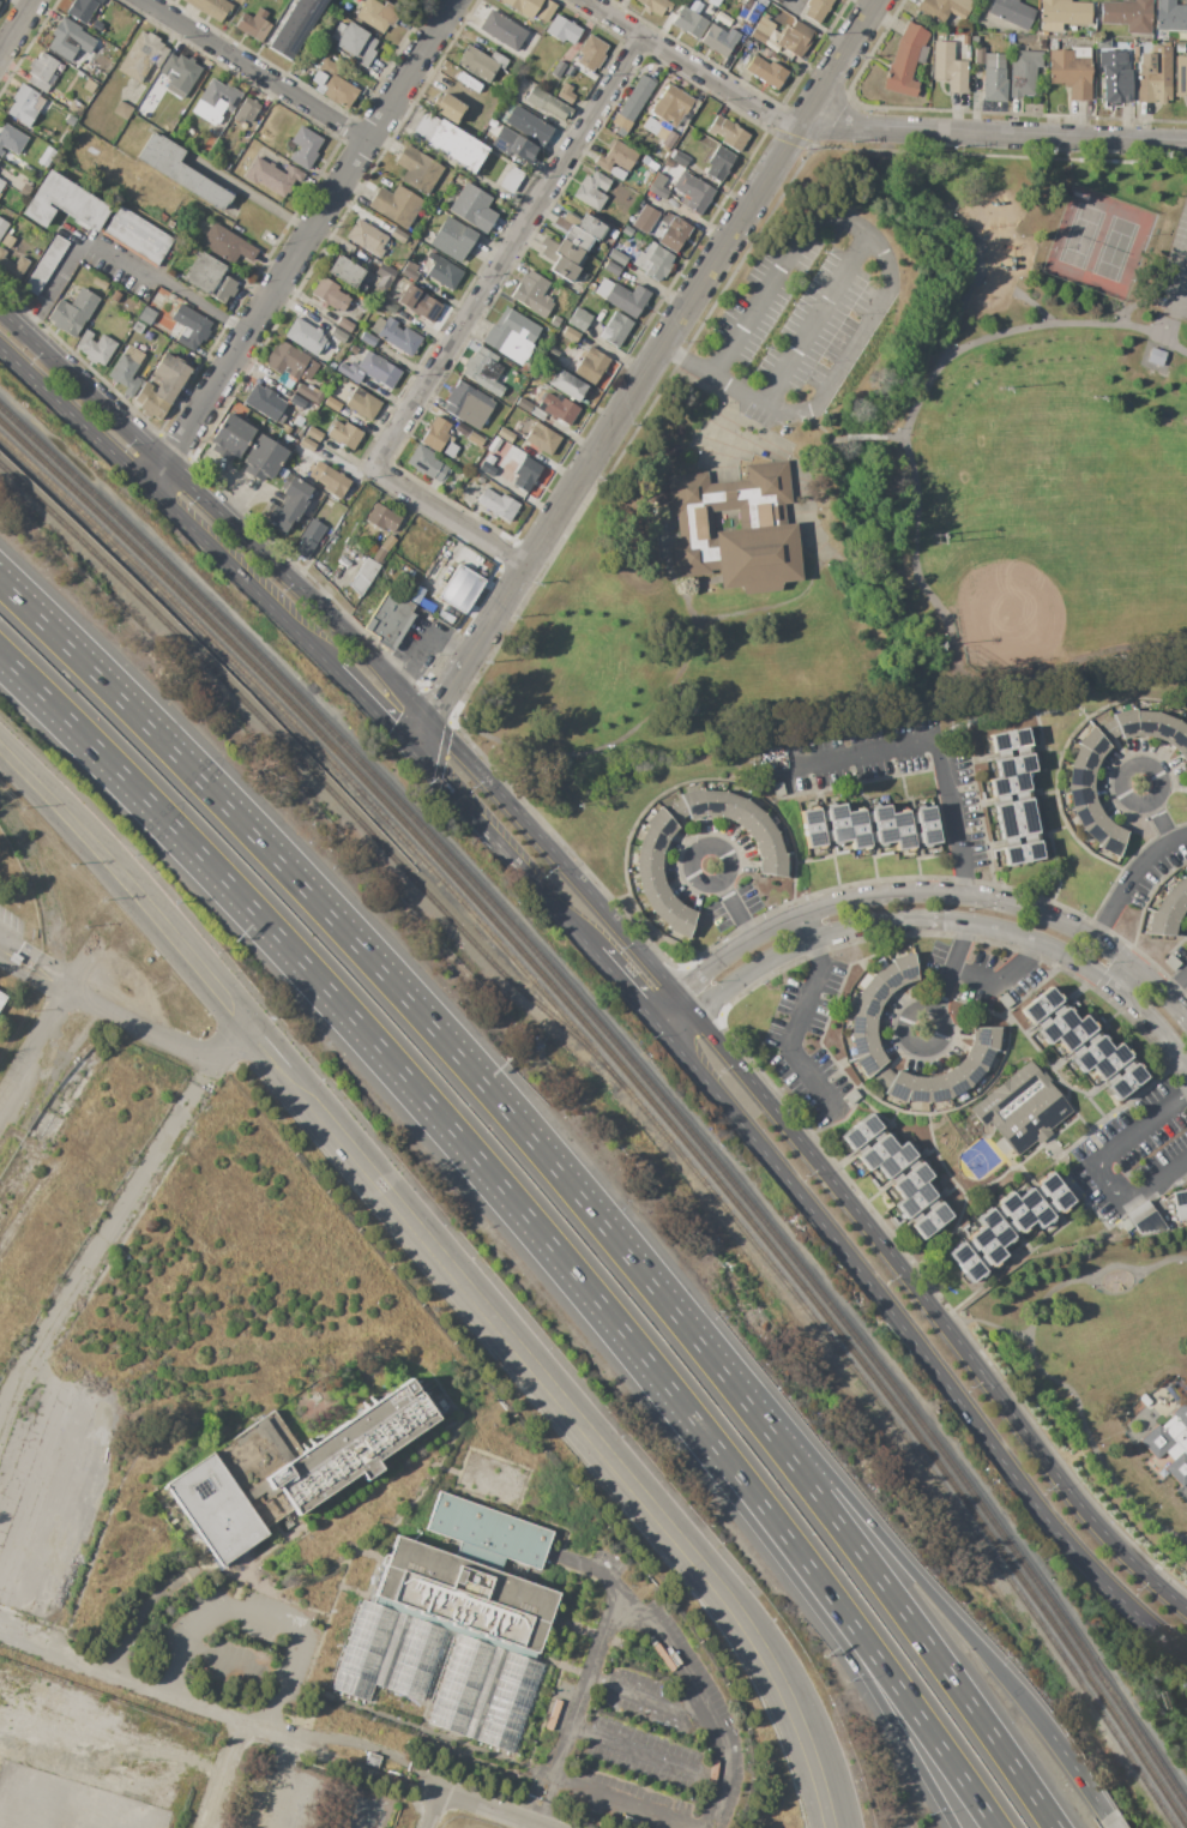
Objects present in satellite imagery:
building: (777, 1)
road: (440, 5)
building: (655, 5)
building: (794, 5)
building: (523, 6)
building: (211, 7)
building: (815, 8)
building: (944, 8)
building: (82, 10)
building: (544, 11)
building: (1011, 12)
building: (376, 14)
building: (1062, 14)
building: (1127, 14)
building: (1170, 16)
building: (746, 17)
building: (689, 20)
road: (16, 24)
building: (253, 25)
building: (295, 26)
building: (502, 29)
building: (561, 30)
building: (763, 30)
building: (794, 38)
building: (64, 40)
building: (719, 40)
building: (975, 41)
building: (354, 43)
building: (1102, 43)
building: (747, 44)
building: (1042, 44)
building: (1053, 46)
building: (1180, 47)
building: (591, 54)
building: (978, 54)
building: (141, 56)
building: (498, 59)
building: (905, 61)
building: (476, 64)
building: (948, 67)
road: (254, 70)
building: (558, 70)
building: (41, 71)
building: (1071, 71)
building: (180, 72)
building: (765, 72)
building: (1024, 72)
building: (1114, 76)
building: (1152, 76)
building: (1180, 76)
building: (994, 78)
building: (333, 84)
building: (89, 86)
building: (520, 86)
building: (564, 94)
building: (215, 102)
building: (547, 103)
building: (632, 103)
building: (23, 106)
building: (446, 107)
building: (76, 108)
building: (122, 110)
building: (246, 110)
building: (667, 110)
building: (528, 126)
road: (867, 126)
building: (727, 133)
building: (5, 134)
building: (668, 140)
building: (450, 143)
building: (513, 145)
building: (303, 148)
building: (1, 152)
building: (616, 156)
building: (679, 158)
building: (0, 162)
building: (718, 163)
building: (417, 169)
building: (180, 170)
building: (272, 176)
building: (2, 178)
building: (1, 184)
building: (591, 191)
building: (659, 192)
building: (692, 192)
road: (247, 194)
building: (64, 204)
building: (396, 205)
building: (472, 208)
building: (567, 218)
building: (645, 221)
building: (589, 226)
building: (2, 227)
building: (626, 230)
building: (673, 233)
building: (138, 234)
building: (398, 236)
building: (366, 237)
building: (576, 237)
building: (267, 239)
building: (453, 240)
park: (1098, 241)
road: (303, 242)
building: (608, 242)
building: (225, 245)
road: (506, 251)
building: (567, 252)
building: (617, 257)
road: (120, 260)
building: (653, 261)
building: (589, 265)
building: (11, 266)
building: (611, 267)
building: (564, 269)
building: (347, 273)
building: (385, 273)
building: (409, 273)
building: (445, 275)
building: (209, 278)
building: (100, 283)
road: (887, 288)
road: (1181, 290)
building: (531, 294)
building: (329, 295)
building: (622, 296)
building: (418, 303)
building: (367, 305)
building: (388, 306)
building: (73, 312)
building: (146, 315)
road: (812, 317)
building: (579, 319)
parking lot: (813, 320)
building: (555, 321)
building: (347, 323)
road: (1169, 325)
building: (189, 326)
building: (135, 327)
building: (615, 330)
building: (570, 333)
building: (338, 335)
building: (305, 336)
building: (396, 336)
building: (511, 336)
building: (368, 339)
building: (95, 348)
road: (657, 361)
building: (288, 363)
building: (590, 366)
building: (331, 367)
building: (126, 369)
building: (369, 371)
building: (483, 371)
building: (566, 385)
building: (161, 387)
building: (312, 393)
building: (297, 401)
building: (265, 403)
building: (332, 403)
building: (362, 403)
building: (468, 404)
building: (523, 404)
road: (922, 404)
building: (558, 408)
building: (537, 413)
building: (295, 433)
building: (231, 434)
building: (313, 434)
building: (436, 434)
building: (344, 435)
building: (505, 435)
road: (777, 438)
building: (474, 439)
building: (542, 439)
building: (307, 444)
building: (450, 450)
building: (255, 453)
building: (307, 453)
building: (460, 462)
building: (270, 463)
building: (427, 464)
building: (489, 465)
building: (525, 474)
building: (463, 475)
building: (474, 475)
park: (880, 475)
building: (330, 480)
building: (480, 481)
building: (295, 493)
park: (1090, 494)
road: (168, 504)
building: (495, 506)
road: (211, 513)
road: (450, 516)
building: (281, 517)
building: (381, 518)
park: (1055, 524)
building: (736, 530)
building: (308, 539)
building: (387, 543)
building: (378, 555)
building: (363, 575)
building: (462, 588)
road: (834, 593)
building: (388, 619)
road: (421, 638)
road: (369, 704)
building: (1123, 722)
building: (1144, 722)
building: (1162, 726)
road: (415, 727)
road: (797, 727)
building: (1108, 730)
building: (1177, 735)
building: (1008, 740)
building: (1092, 742)
road: (933, 747)
building: (1183, 752)
building: (1084, 759)
building: (1186, 764)
building: (1014, 765)
railway: (308, 769)
building: (1079, 777)
building: (1007, 783)
building: (777, 789)
building: (1080, 796)
building: (693, 802)
building: (712, 802)
building: (730, 806)
building: (675, 811)
road: (1155, 813)
building: (1087, 814)
building: (747, 816)
building: (1014, 818)
building: (661, 823)
building: (838, 823)
building: (881, 823)
building: (927, 825)
building: (813, 828)
building: (856, 829)
building: (1098, 829)
building: (760, 830)
building: (900, 830)
building: (652, 840)
building: (1113, 841)
road: (499, 846)
building: (767, 846)
road: (553, 852)
building: (1020, 853)
building: (647, 859)
building: (772, 865)
road: (1126, 874)
building: (649, 878)
building: (1185, 878)
road: (126, 884)
building: (1179, 892)
road: (939, 894)
building: (656, 896)
road: (730, 900)
building: (1169, 908)
building: (668, 910)
building: (682, 922)
road: (956, 922)
building: (1158, 925)
road: (7, 952)
building: (1170, 962)
road: (373, 967)
building: (903, 969)
road: (944, 976)
building: (886, 979)
road: (1125, 981)
road: (998, 982)
road: (1175, 986)
road: (626, 987)
building: (873, 992)
building: (1, 999)
building: (1004, 1000)
road: (686, 1004)
building: (1040, 1005)
road: (668, 1009)
building: (864, 1009)
road: (115, 1014)
road: (799, 1017)
road: (676, 1020)
building: (1056, 1024)
building: (861, 1027)
building: (1002, 1033)
building: (1074, 1033)
building: (986, 1035)
road: (233, 1044)
building: (863, 1046)
building: (1000, 1051)
road: (34, 1052)
building: (1090, 1052)
building: (978, 1053)
building: (1109, 1059)
building: (869, 1063)
railway: (637, 1069)
building: (969, 1070)
building: (882, 1076)
road: (408, 1080)
building: (1125, 1081)
building: (954, 1082)
railway: (638, 1084)
building: (899, 1087)
building: (917, 1089)
building: (936, 1089)
railway: (631, 1096)
building: (851, 1096)
building: (1022, 1108)
building: (860, 1132)
building: (876, 1153)
building: (894, 1160)
road: (1097, 1167)
building: (910, 1179)
building: (1054, 1191)
building: (914, 1199)
building: (1180, 1204)
building: (1032, 1208)
building: (1013, 1210)
building: (1141, 1219)
building: (929, 1221)
building: (995, 1227)
building: (987, 1245)
road: (104, 1247)
building: (966, 1262)
road: (1055, 1289)
road: (938, 1316)
park: (1087, 1329)
road: (915, 1346)
road: (567, 1409)
building: (271, 1439)
building: (1170, 1441)
road: (1093, 1447)
road: (1072, 1456)
building: (295, 1473)
building: (487, 1531)
road: (589, 1568)
road: (922, 1586)
building: (464, 1593)
road: (891, 1598)
road: (257, 1616)
road: (233, 1661)
road: (891, 1680)
road: (140, 1682)
road: (868, 1682)
road: (644, 1697)
road: (697, 1702)
road: (577, 1708)
road: (284, 1733)
road: (277, 1750)
road: (645, 1755)
building: (369, 1760)
road: (228, 1774)
road: (309, 1785)
road: (261, 1797)
road: (621, 1804)
road: (430, 1809)
road: (488, 1809)
road: (362, 1812)
road: (1109, 1822)

